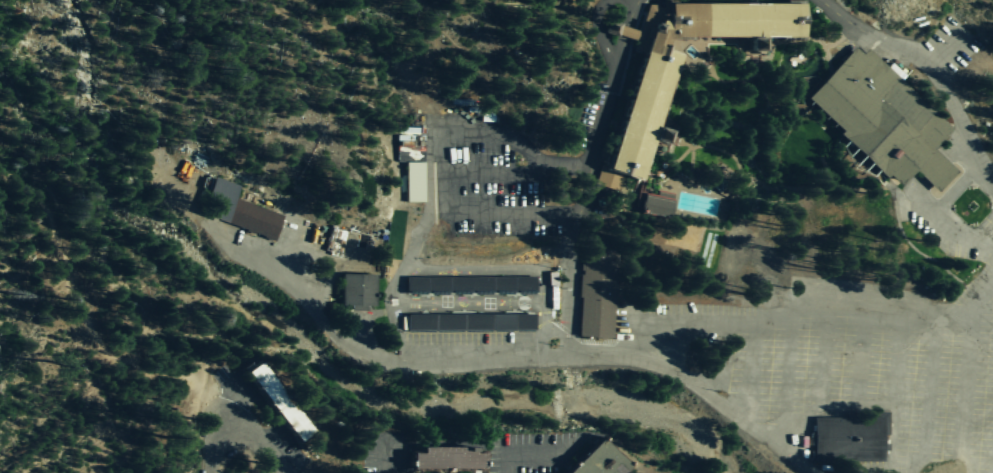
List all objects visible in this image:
parking lot: (822, 2)
road: (903, 23)
building: (610, 27)
building: (645, 28)
road: (594, 29)
road: (621, 30)
building: (626, 32)
building: (758, 43)
building: (821, 48)
parking lot: (927, 50)
road: (938, 52)
road: (970, 53)
road: (911, 66)
building: (651, 91)
building: (876, 114)
building: (485, 117)
road: (486, 130)
road: (591, 133)
building: (662, 134)
building: (410, 167)
building: (932, 168)
road: (495, 169)
road: (985, 175)
road: (925, 176)
building: (205, 182)
building: (715, 186)
road: (897, 189)
building: (654, 204)
building: (238, 210)
road: (544, 217)
road: (927, 217)
road: (916, 248)
building: (705, 249)
parking lot: (411, 256)
road: (125, 258)
road: (990, 282)
building: (470, 283)
building: (595, 285)
road: (569, 286)
building: (356, 290)
road: (841, 293)
road: (973, 299)
road: (87, 306)
road: (526, 318)
building: (470, 321)
road: (489, 322)
road: (448, 323)
road: (410, 325)
road: (973, 326)
parking lot: (851, 349)
road: (523, 356)
road: (829, 361)
road: (807, 390)
road: (712, 398)
road: (914, 398)
road: (965, 399)
building: (278, 401)
building: (849, 437)
road: (257, 439)
road: (210, 446)
road: (521, 454)
road: (381, 457)
building: (447, 458)
building: (598, 460)

